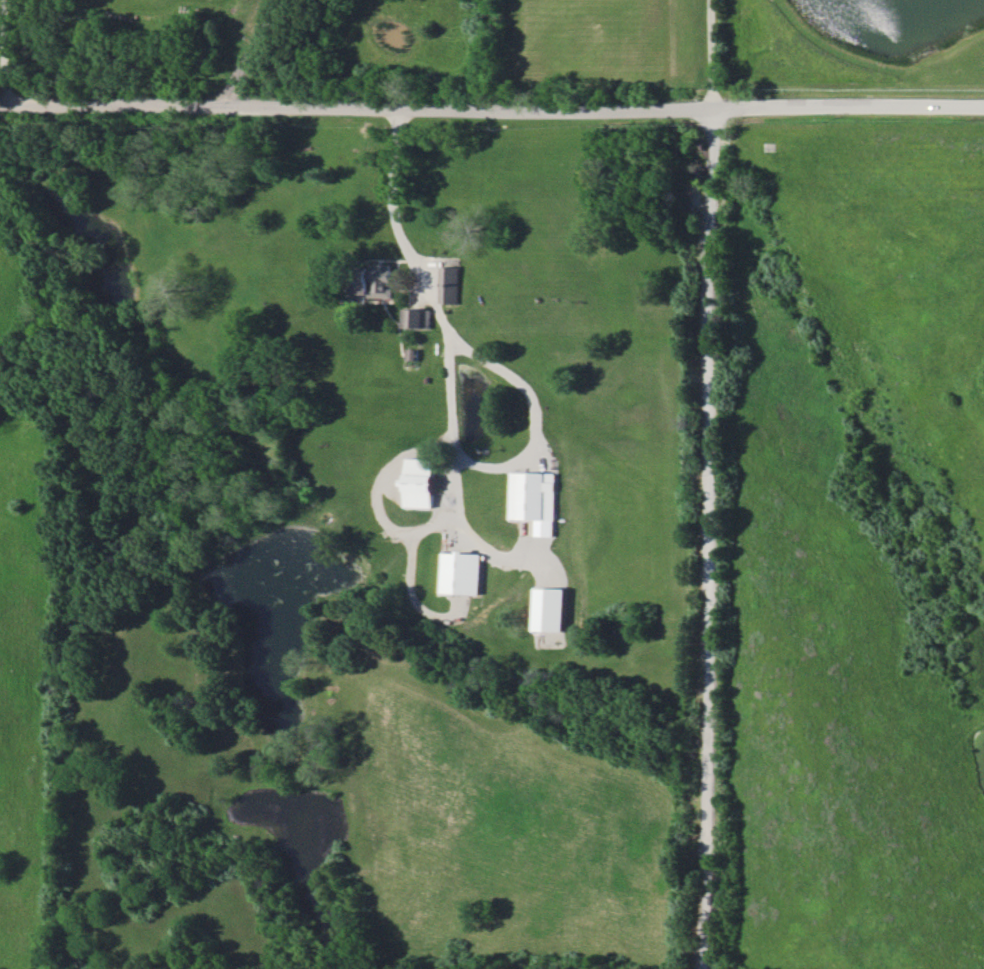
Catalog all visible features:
road: (10, 53)
road: (252, 54)
road: (492, 112)
building: (372, 280)
building: (447, 284)
building: (414, 318)
road: (449, 395)
building: (419, 482)
road: (705, 484)
building: (532, 499)
building: (460, 573)
building: (549, 609)

